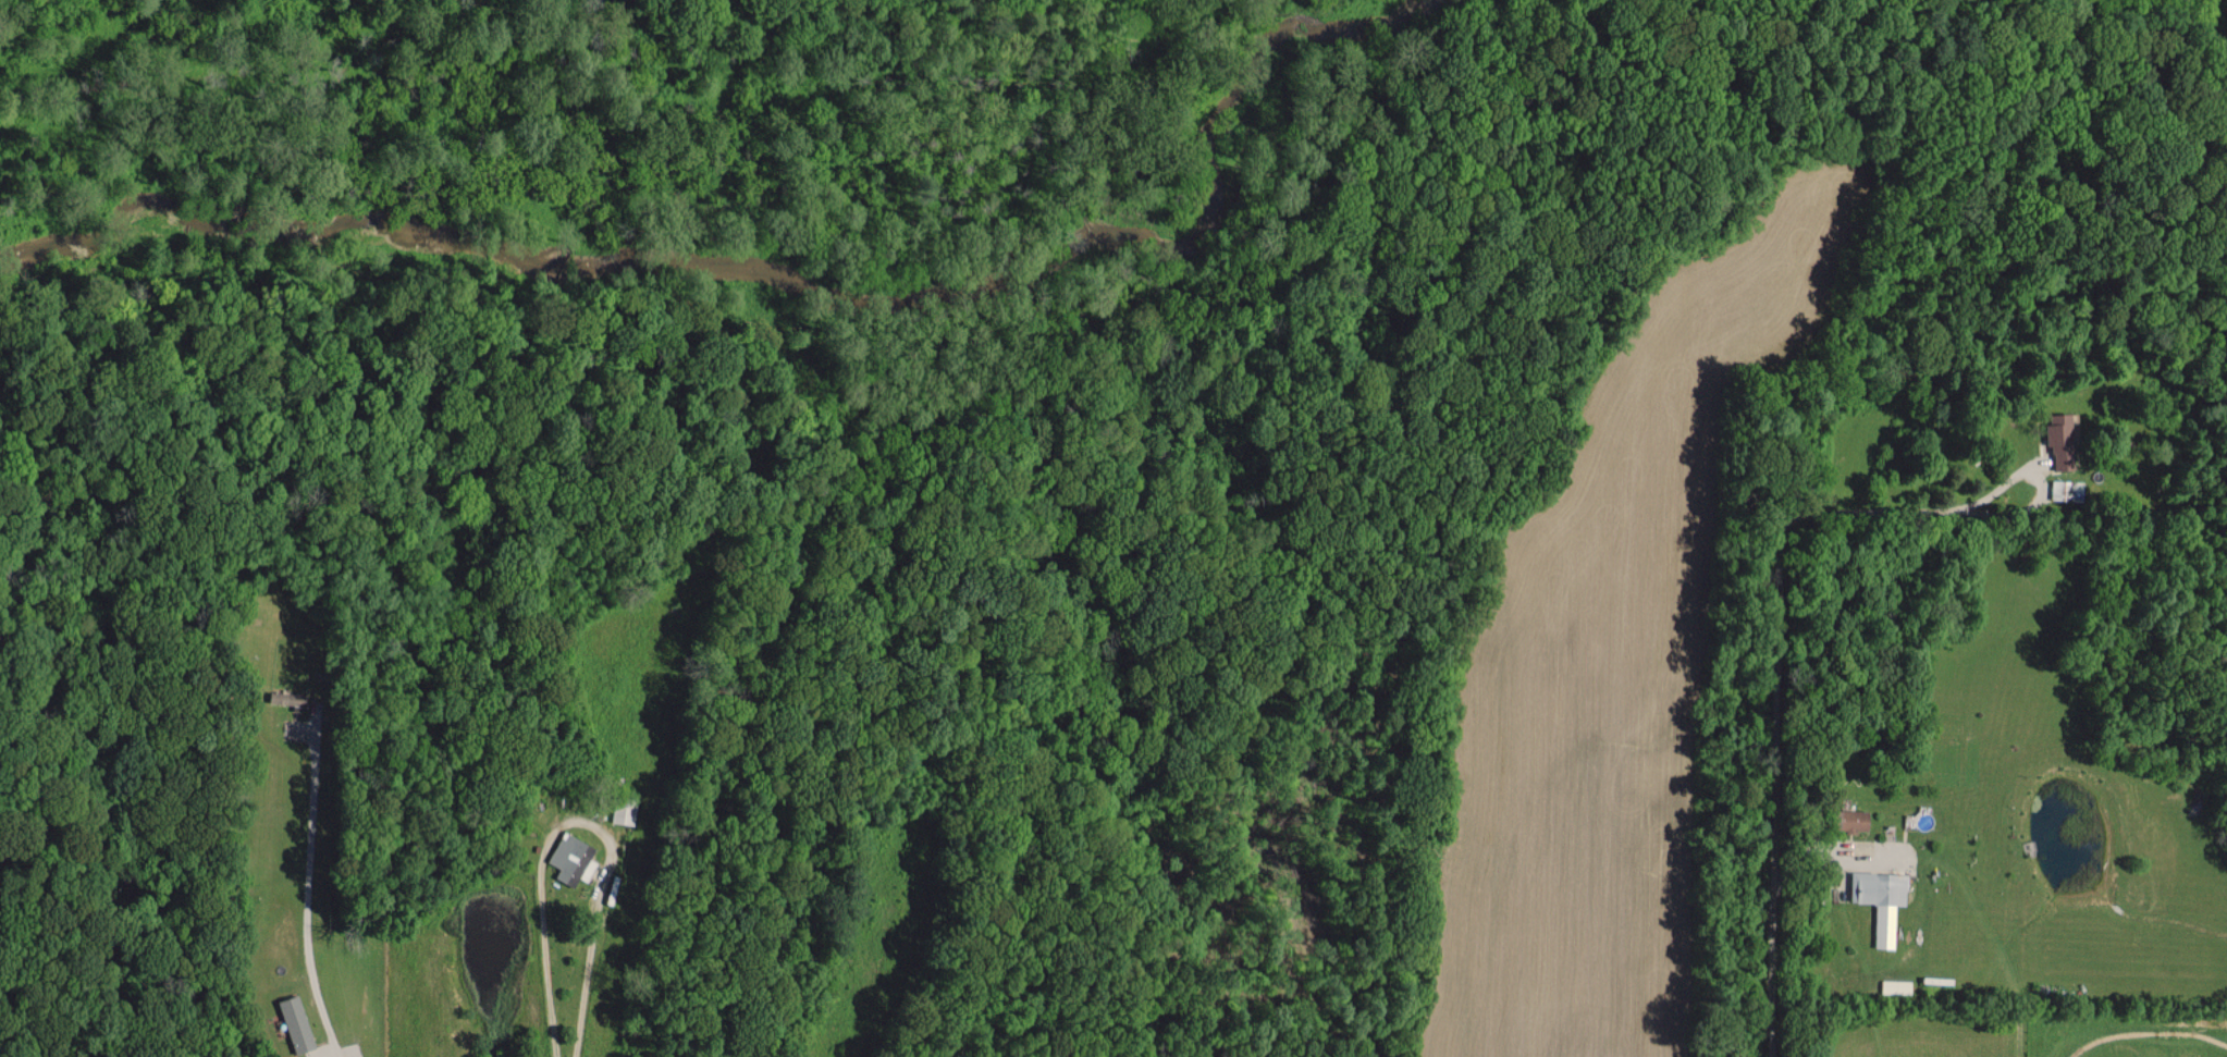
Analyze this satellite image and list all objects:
building: (2063, 434)
road: (1774, 665)
building: (284, 697)
building: (624, 812)
building: (1858, 820)
building: (573, 858)
road: (308, 896)
building: (1882, 899)
building: (1896, 985)
building: (297, 1023)

